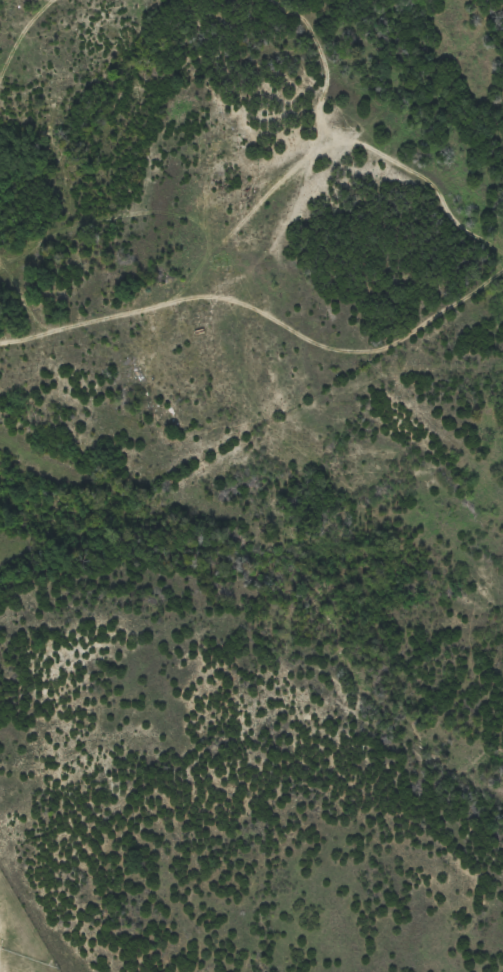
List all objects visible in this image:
road: (274, 263)

